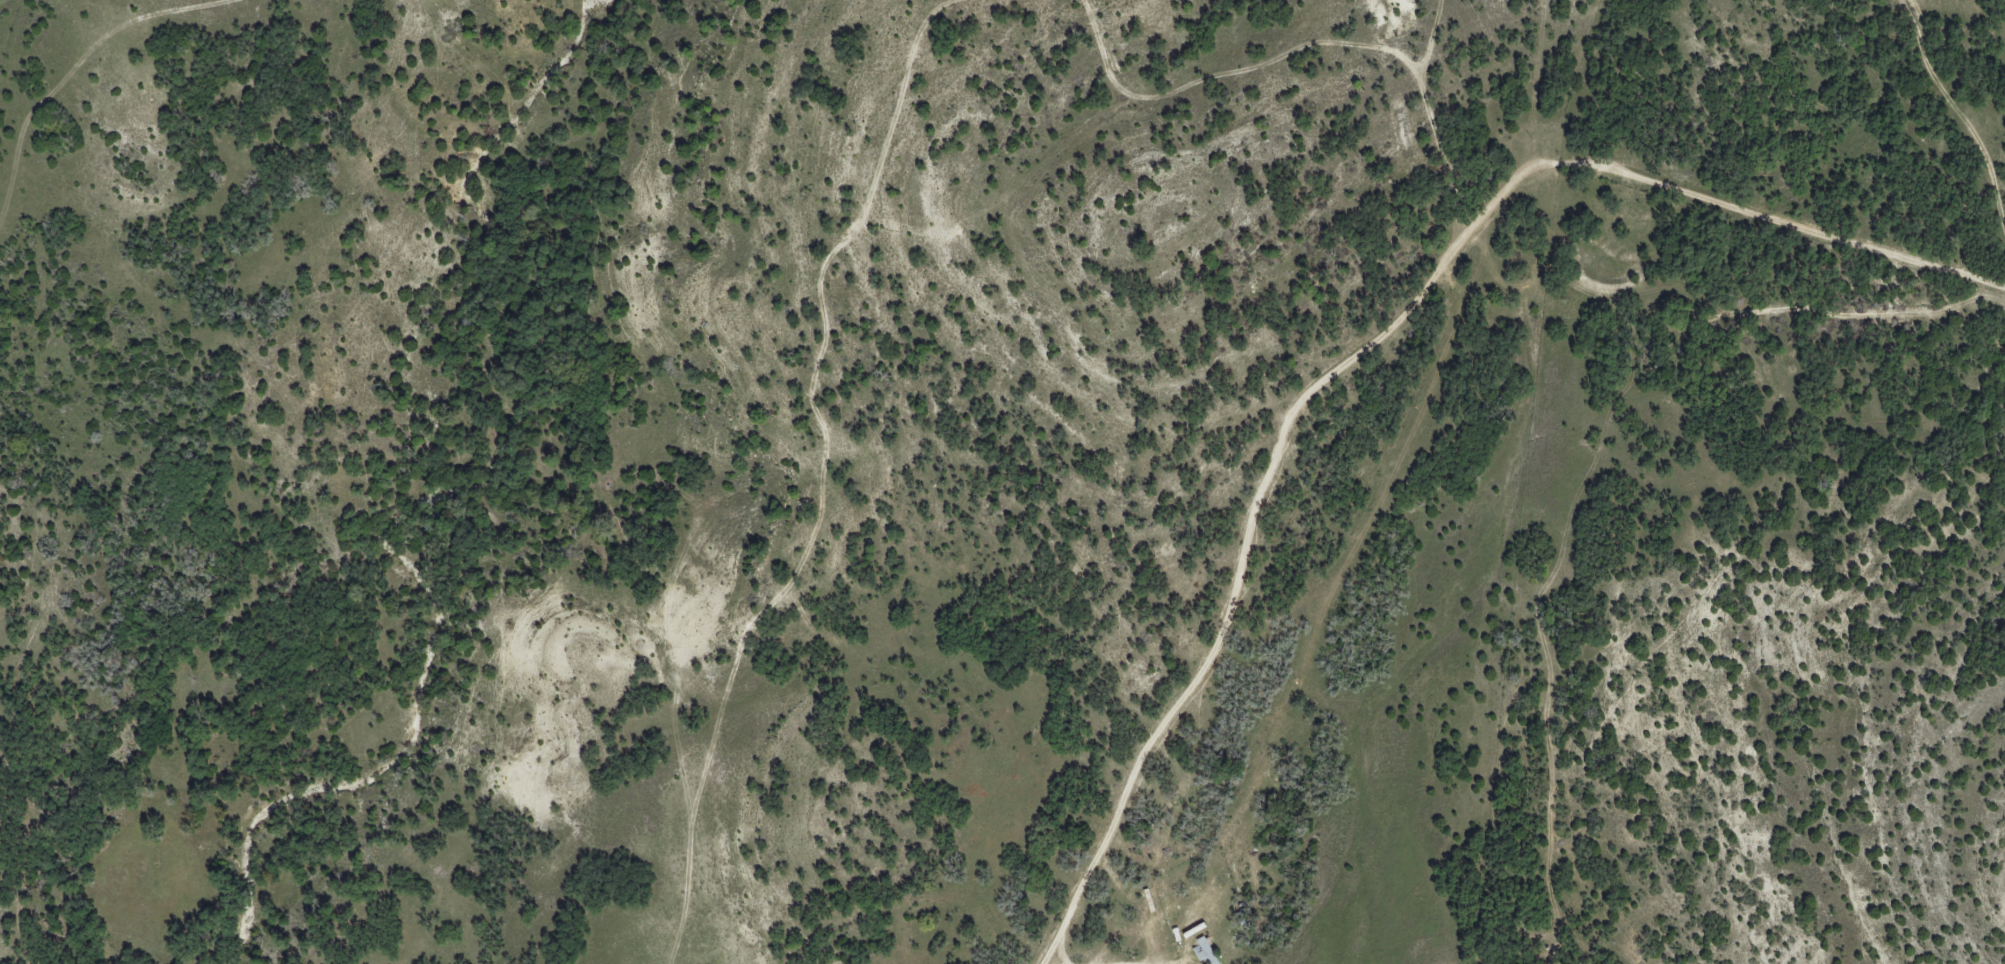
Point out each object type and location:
building: (1166, 881)
building: (1204, 950)

